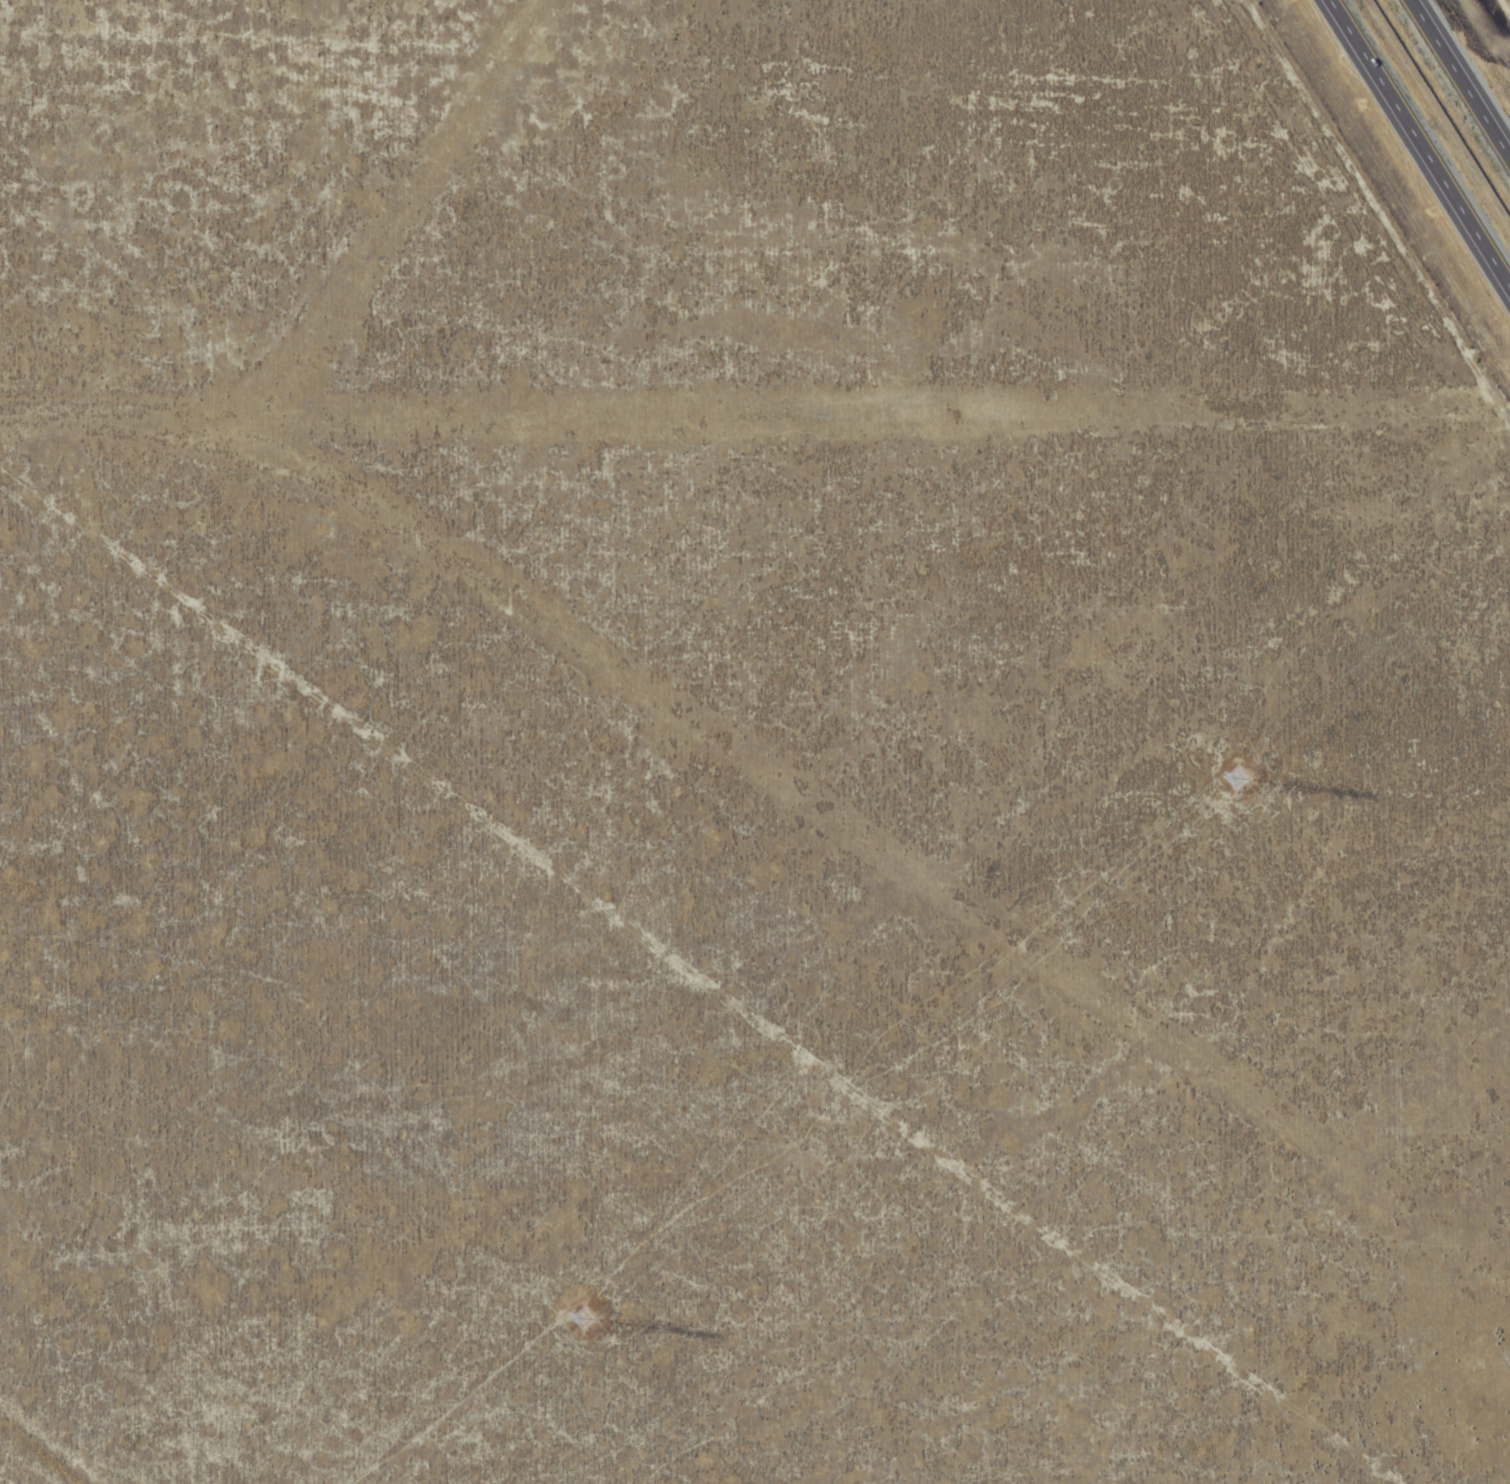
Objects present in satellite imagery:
road: (1460, 76)
road: (1422, 135)
power tower: (1238, 766)
power tower: (571, 1313)

